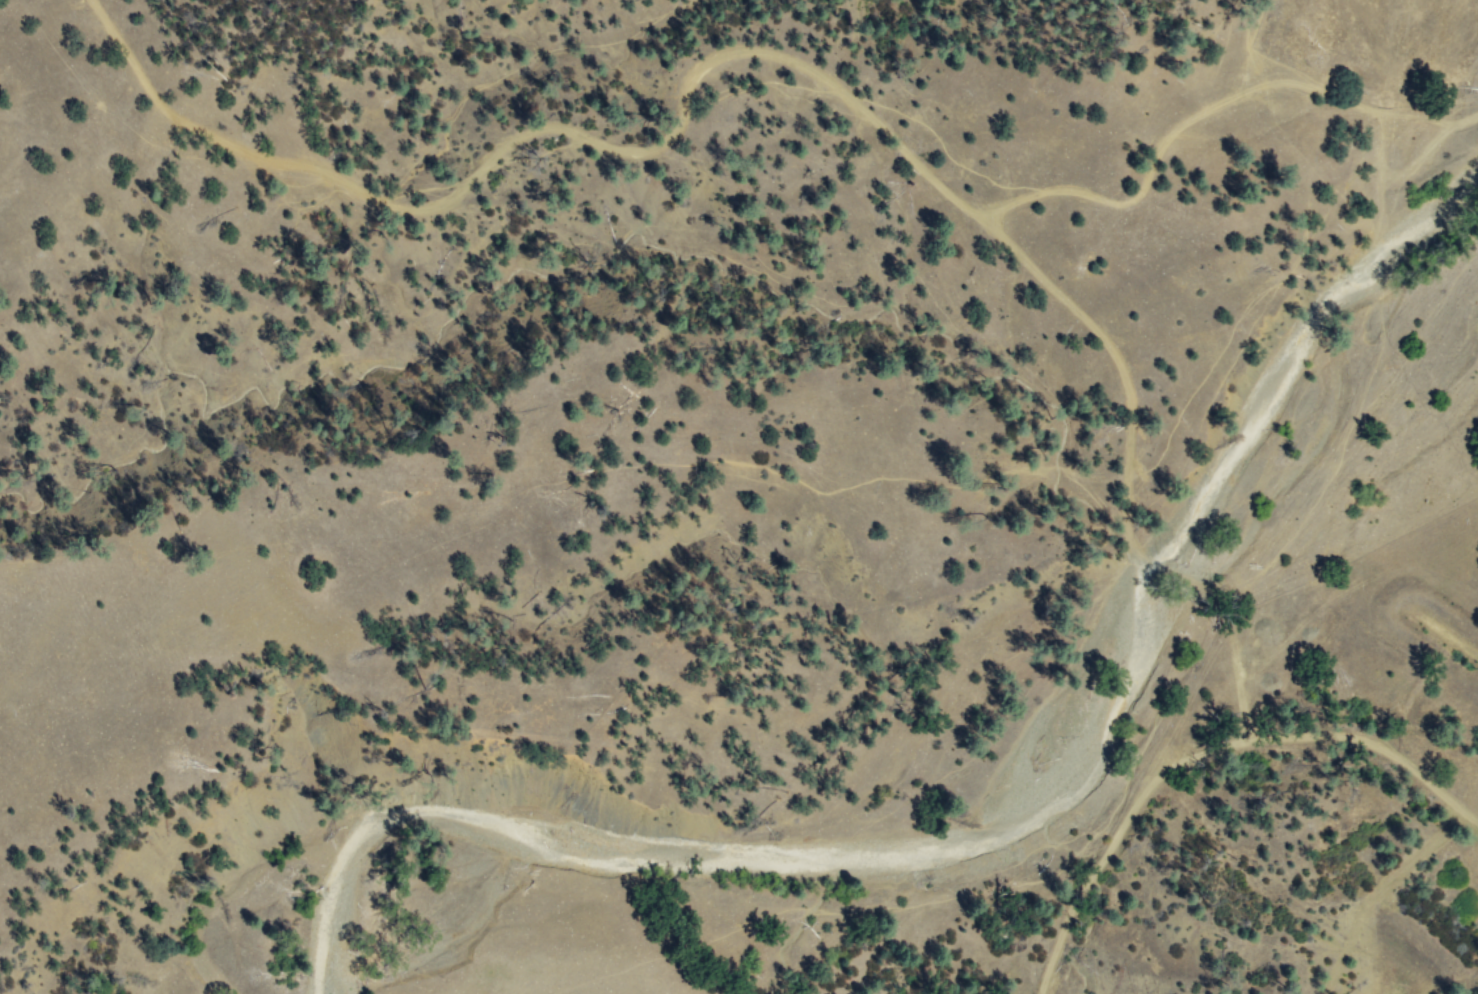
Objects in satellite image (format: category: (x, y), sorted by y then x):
road: (1204, 785)
river: (989, 815)

